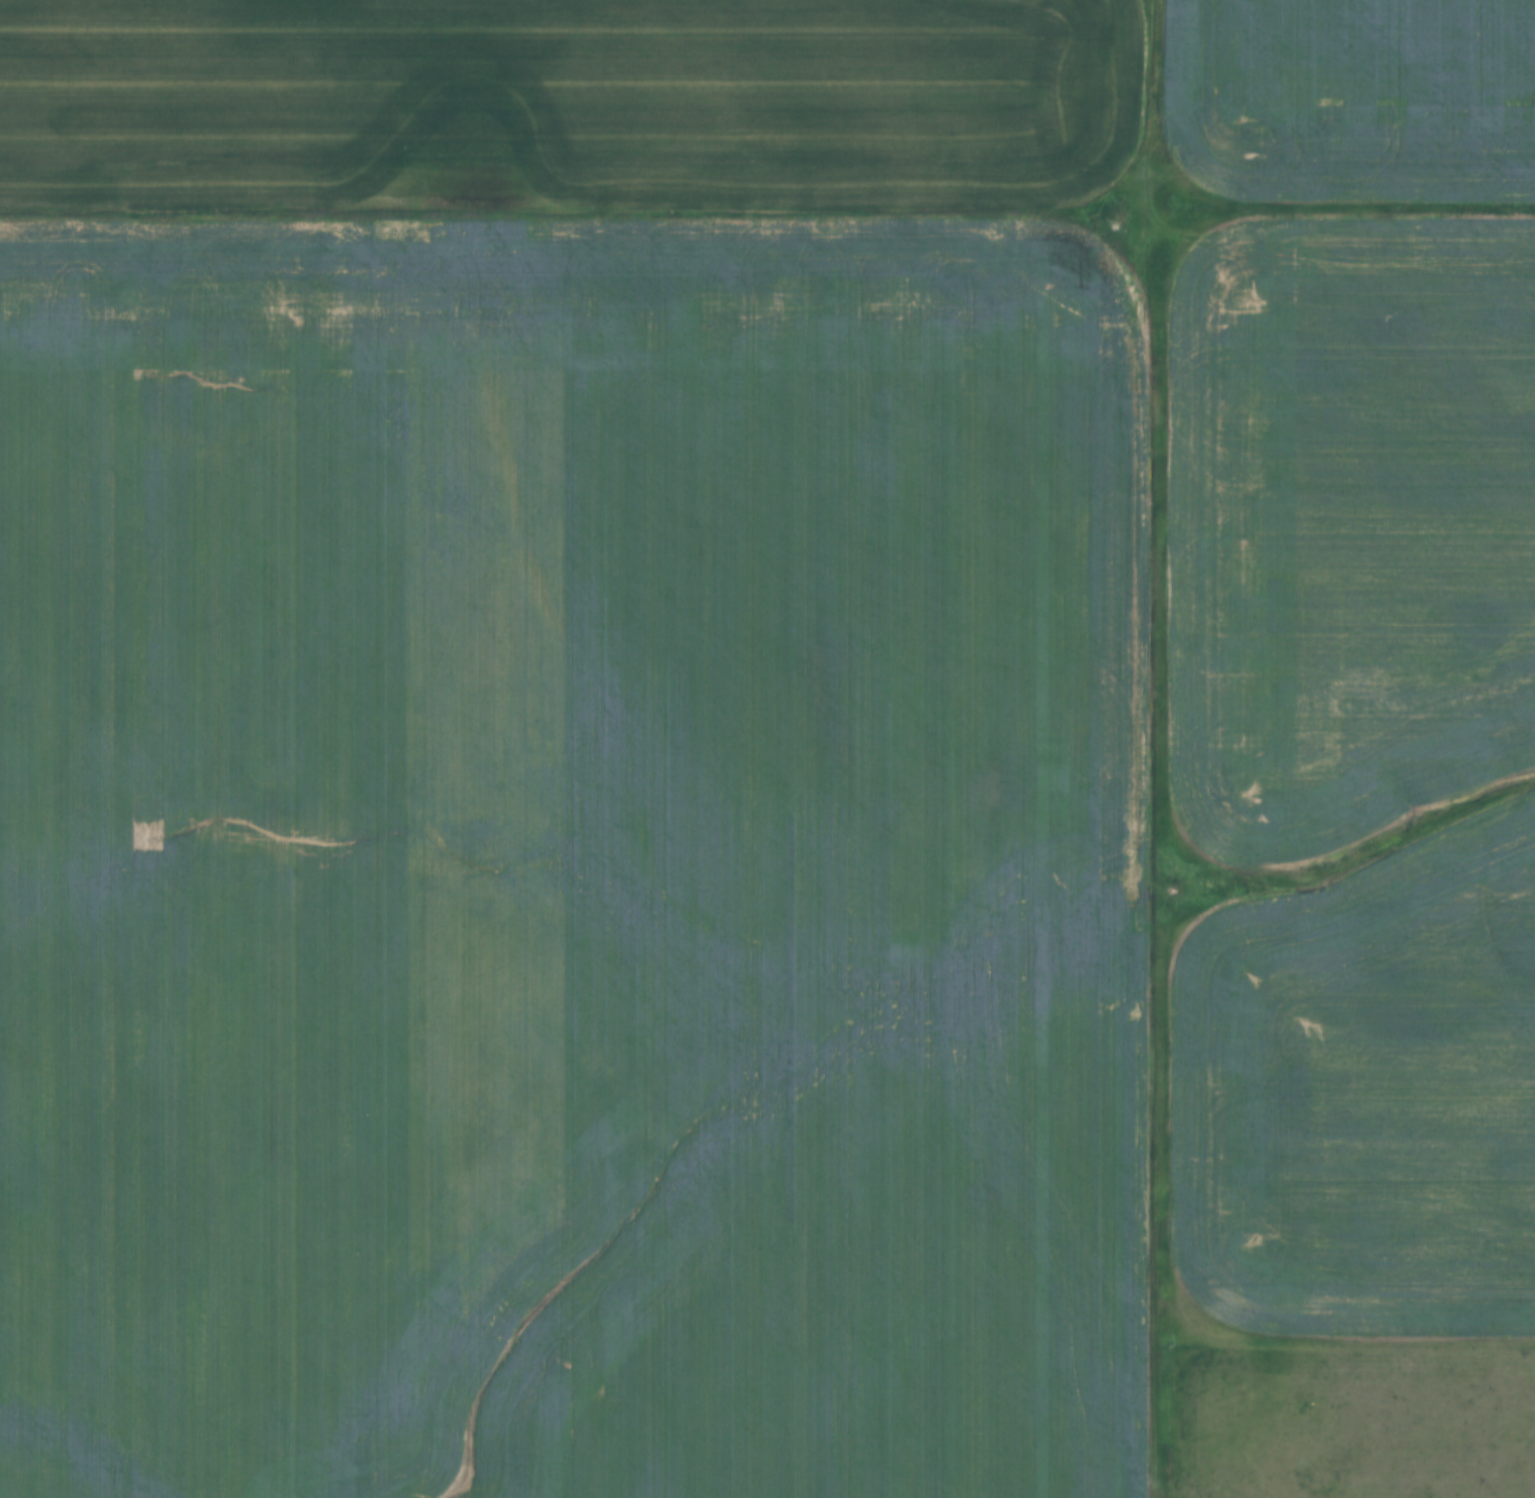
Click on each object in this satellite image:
road: (1151, 748)

